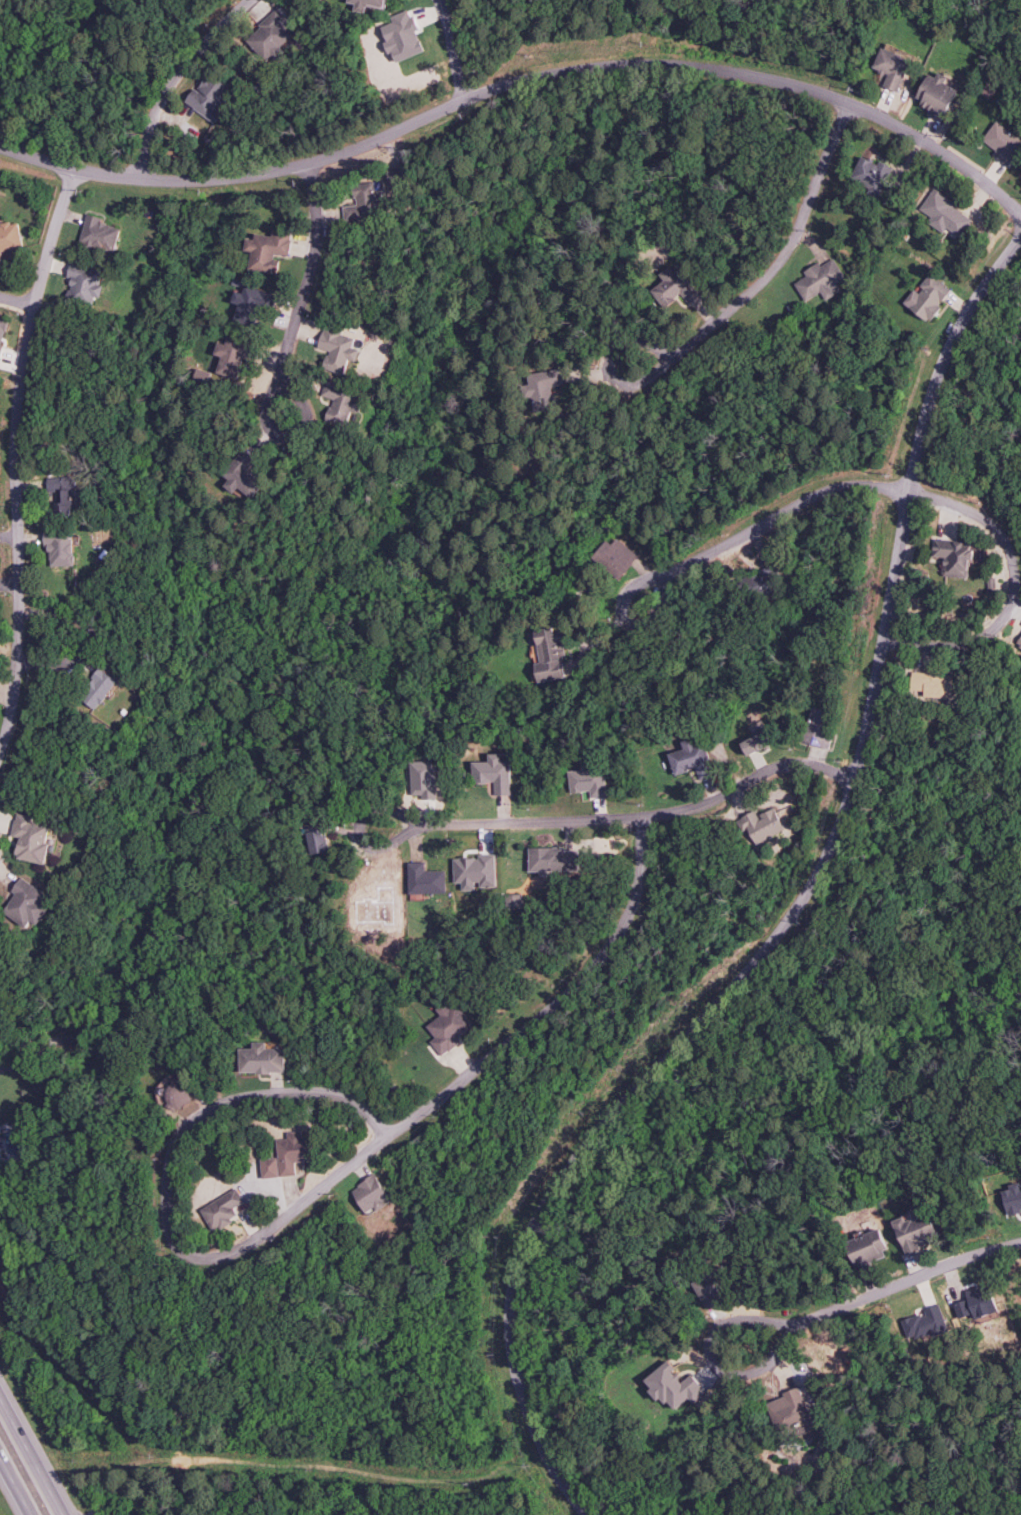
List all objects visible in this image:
building: (370, 3)
building: (271, 34)
building: (402, 36)
road: (458, 50)
building: (891, 67)
road: (176, 78)
road: (519, 82)
building: (935, 94)
building: (211, 95)
building: (1003, 142)
building: (871, 173)
building: (364, 202)
building: (945, 212)
building: (99, 233)
building: (10, 236)
building: (268, 250)
building: (0, 261)
road: (781, 266)
building: (819, 279)
building: (84, 282)
building: (675, 286)
road: (306, 290)
building: (928, 297)
road: (16, 303)
building: (252, 304)
building: (3, 330)
building: (338, 348)
building: (233, 355)
building: (201, 377)
building: (544, 388)
building: (341, 402)
building: (243, 474)
road: (17, 476)
building: (62, 493)
road: (770, 520)
building: (60, 547)
building: (954, 556)
road: (10, 557)
building: (615, 557)
building: (765, 581)
road: (1016, 587)
road: (54, 642)
building: (1019, 643)
building: (550, 653)
building: (98, 688)
building: (818, 726)
building: (757, 742)
building: (692, 757)
building: (493, 773)
building: (423, 778)
building: (589, 778)
road: (624, 818)
building: (760, 825)
building: (31, 838)
building: (316, 839)
road: (4, 849)
building: (552, 859)
road: (794, 918)
road: (3, 1067)
road: (463, 1077)
road: (224, 1086)
road: (885, 1293)
road: (29, 1459)
road: (13, 1489)

